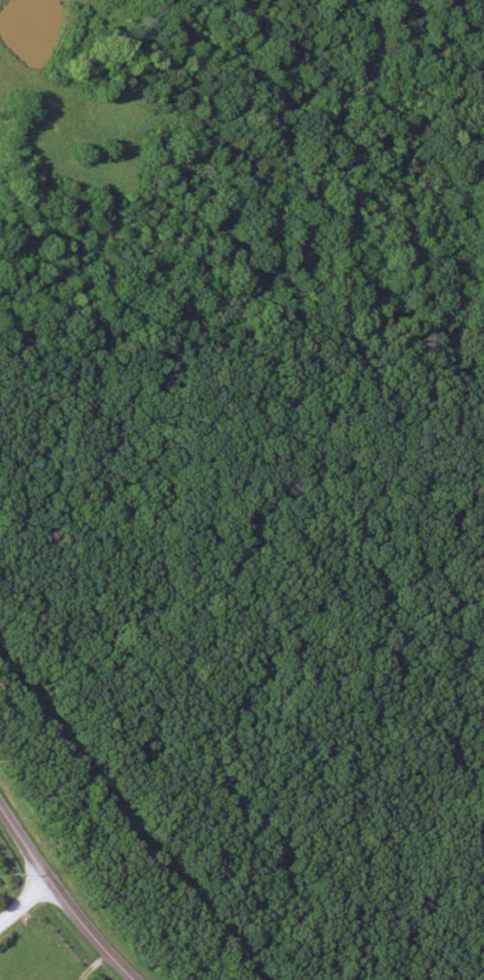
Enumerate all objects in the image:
road: (57, 894)
road: (13, 899)
road: (25, 906)

